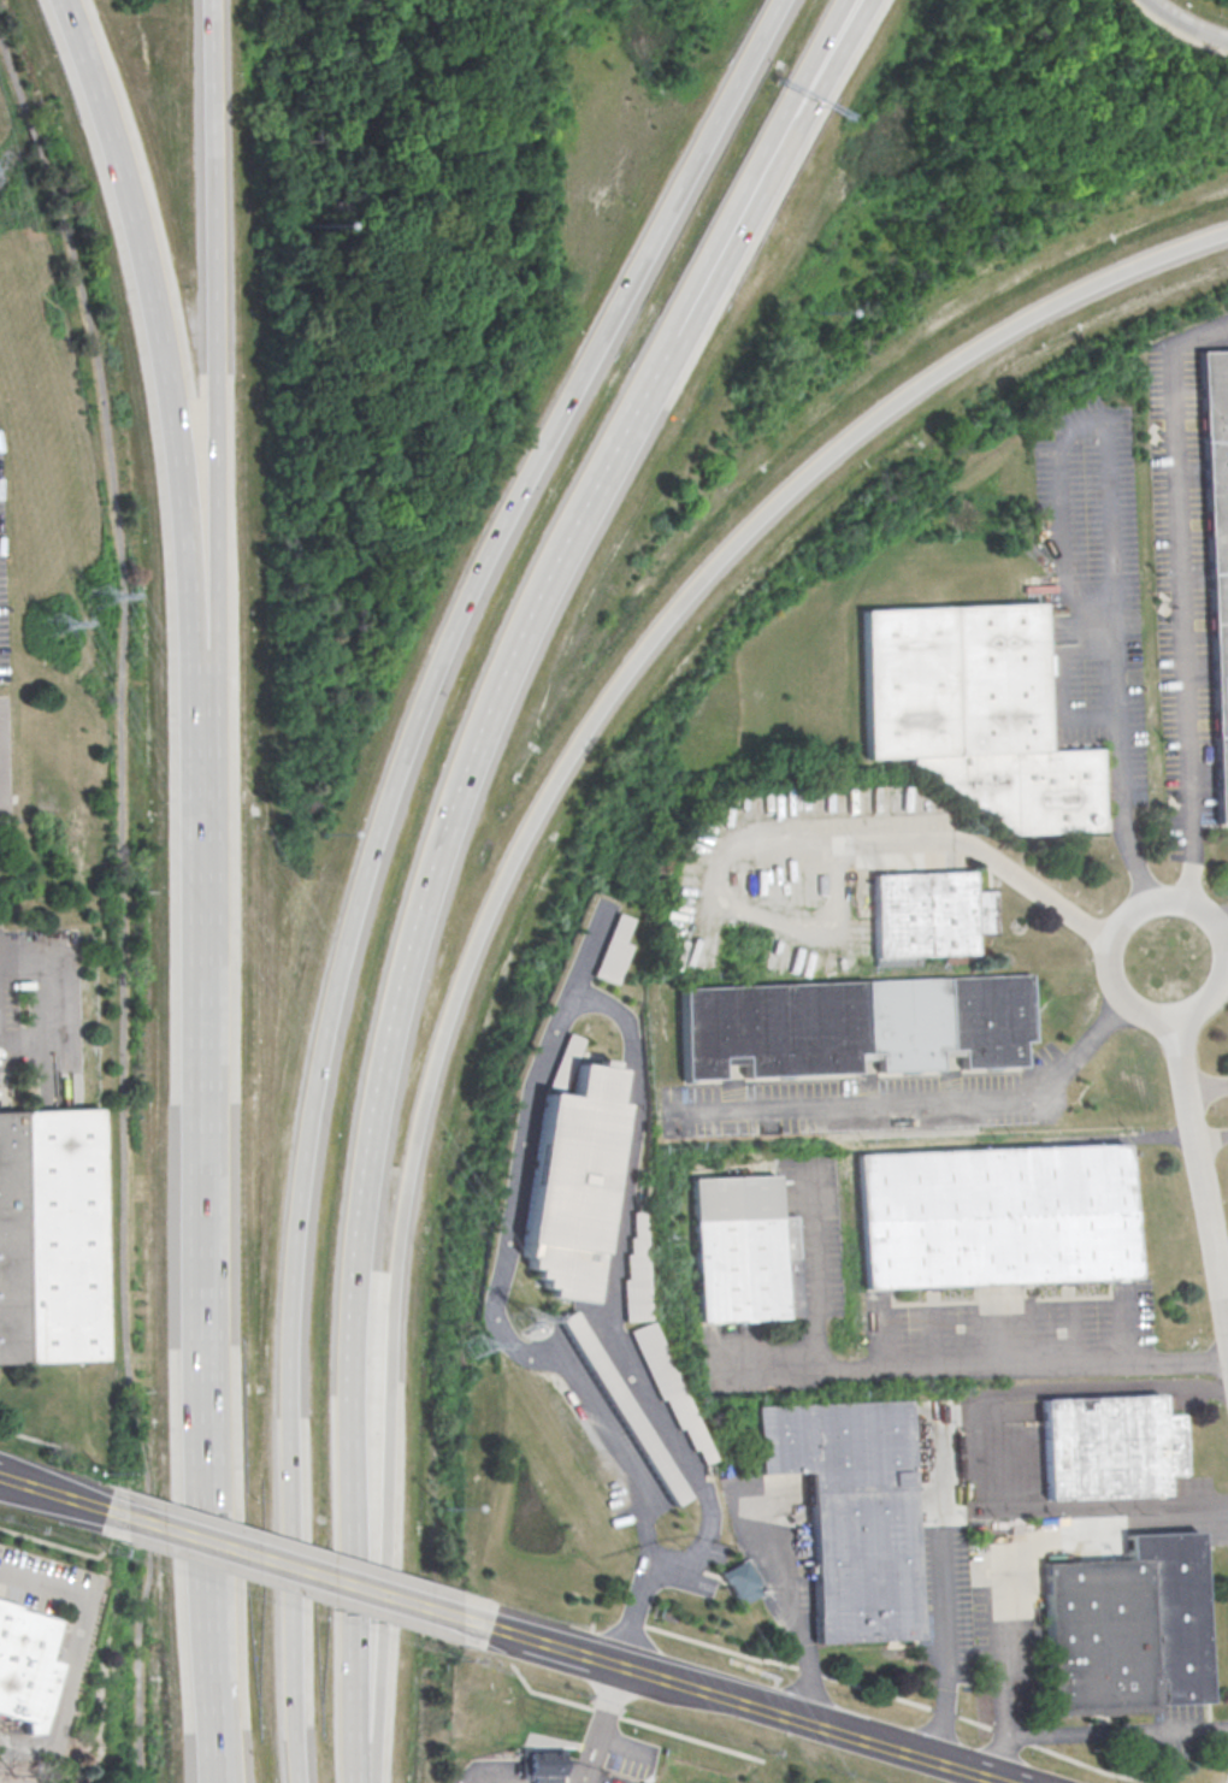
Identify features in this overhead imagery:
road: (1185, 24)
road: (14, 76)
road: (792, 85)
road: (813, 89)
road: (35, 136)
road: (645, 311)
road: (681, 315)
road: (159, 329)
road: (213, 335)
road: (1108, 468)
building: (1217, 544)
parking lot: (1186, 581)
parking lot: (1096, 585)
power tower: (96, 594)
road: (1186, 597)
power tower: (53, 631)
road: (1064, 686)
building: (974, 715)
road: (0, 772)
road: (1126, 838)
road: (804, 844)
road: (525, 845)
road: (379, 850)
building: (927, 916)
road: (1224, 926)
building: (620, 952)
road: (1111, 957)
road: (126, 964)
road: (58, 1009)
building: (856, 1027)
road: (1210, 1084)
road: (926, 1098)
road: (388, 1100)
road: (1121, 1138)
road: (1205, 1161)
building: (579, 1173)
building: (997, 1218)
road: (216, 1227)
building: (52, 1239)
building: (748, 1253)
road: (813, 1268)
building: (640, 1273)
road: (1226, 1282)
road: (610, 1300)
road: (502, 1311)
power tower: (532, 1317)
power tower: (488, 1353)
road: (978, 1364)
building: (673, 1389)
building: (628, 1409)
road: (1004, 1429)
road: (20, 1433)
building: (1108, 1447)
road: (17, 1480)
road: (82, 1499)
building: (855, 1513)
road: (1102, 1527)
road: (54, 1542)
road: (303, 1563)
building: (738, 1578)
road: (45, 1592)
road: (789, 1595)
road: (941, 1595)
road: (501, 1620)
building: (1128, 1629)
road: (571, 1642)
building: (23, 1658)
road: (1004, 1669)
road: (893, 1695)
road: (60, 1696)
road: (606, 1698)
road: (758, 1701)
road: (630, 1720)
road: (1117, 1731)
road: (583, 1759)
road: (592, 1763)
building: (548, 1764)
road: (961, 1764)
road: (501, 1777)

